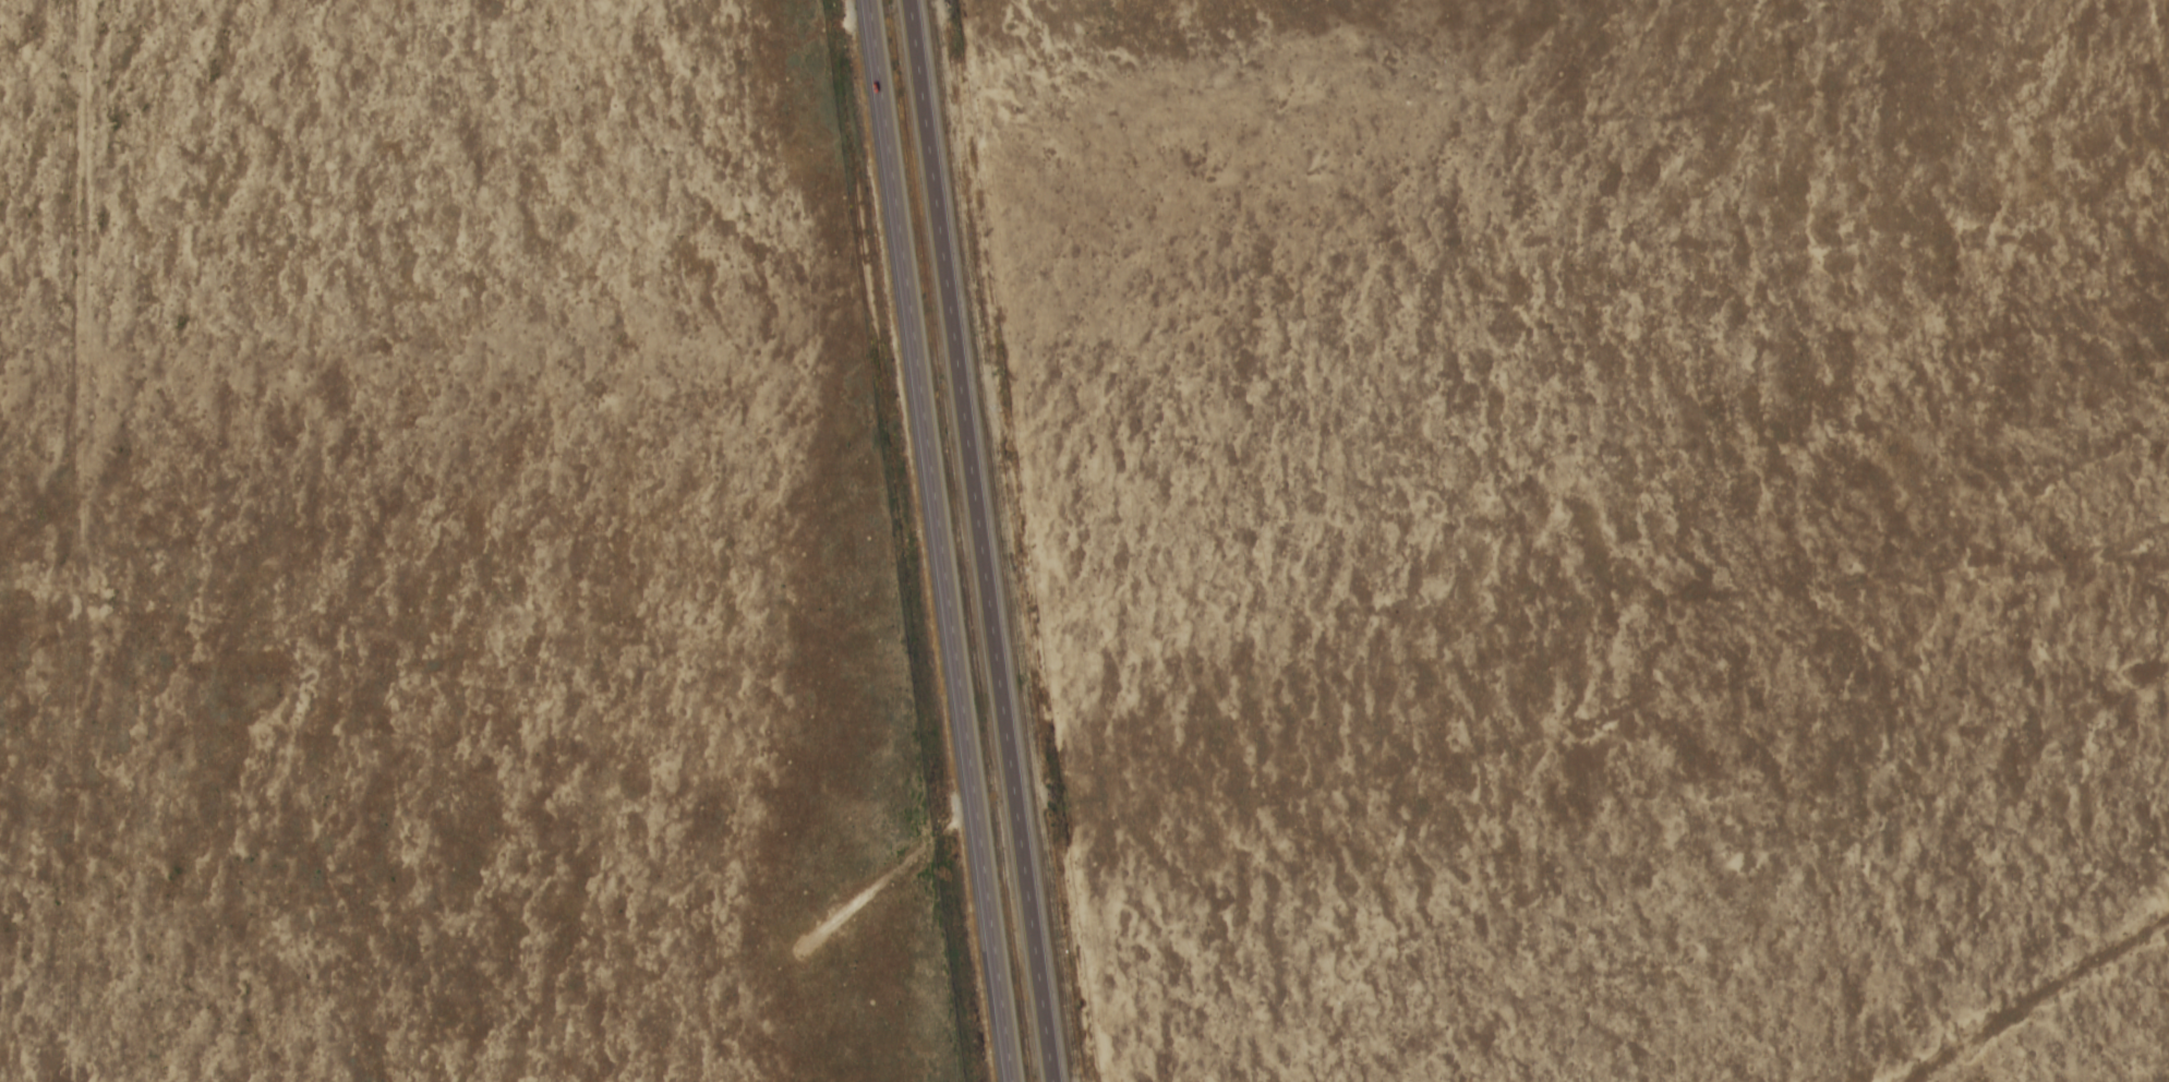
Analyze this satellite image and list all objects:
road: (937, 541)
road: (984, 541)

